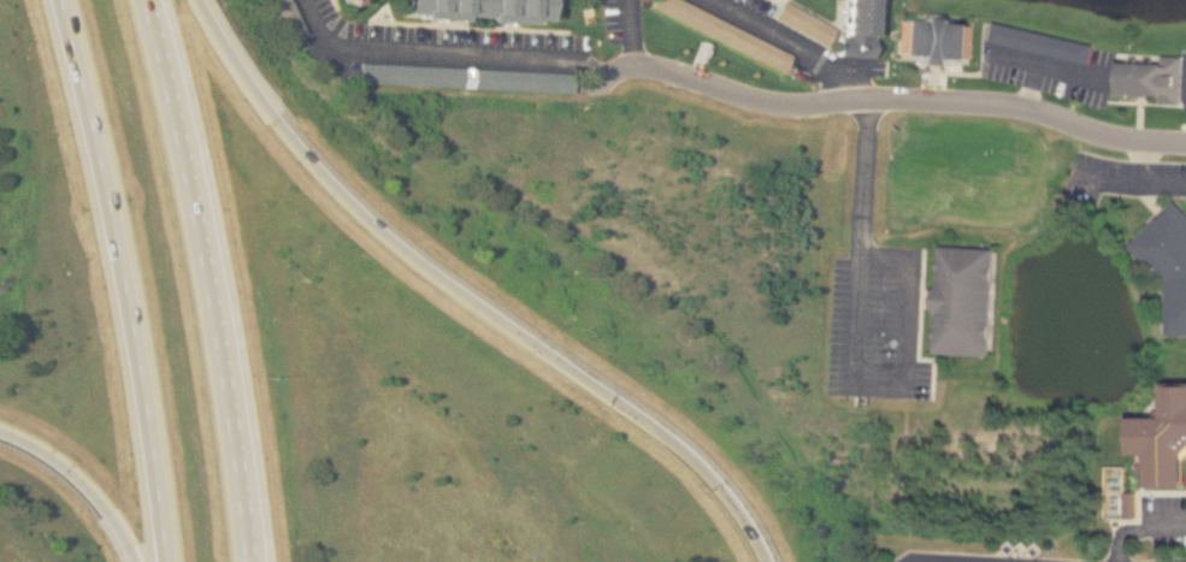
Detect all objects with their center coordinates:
building: (344, 1)
building: (482, 8)
building: (289, 18)
building: (801, 20)
building: (857, 26)
road: (633, 29)
building: (722, 31)
building: (934, 35)
road: (796, 41)
building: (1040, 41)
road: (452, 46)
building: (1153, 72)
building: (466, 76)
road: (896, 99)
road: (1141, 162)
parking lot: (1131, 177)
road: (1127, 182)
road: (1147, 199)
building: (1167, 261)
road: (125, 278)
road: (210, 278)
road: (470, 295)
road: (919, 297)
building: (932, 297)
road: (933, 298)
building: (963, 300)
parking lot: (881, 325)
road: (917, 330)
fountain: (1091, 343)
road: (854, 354)
building: (1162, 438)
road: (83, 478)
road: (1161, 491)
road: (1137, 517)
parking lot: (1168, 522)
road: (1139, 528)
road: (924, 560)

